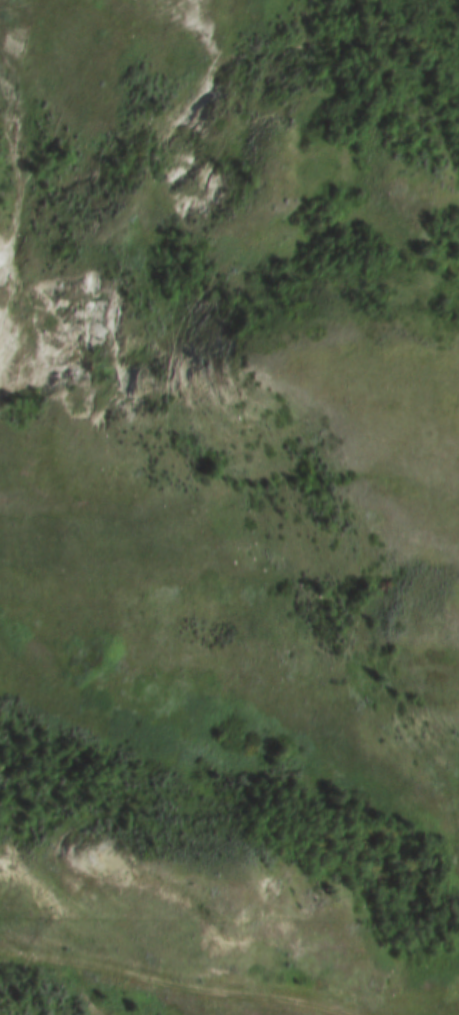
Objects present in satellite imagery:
road: (163, 985)

